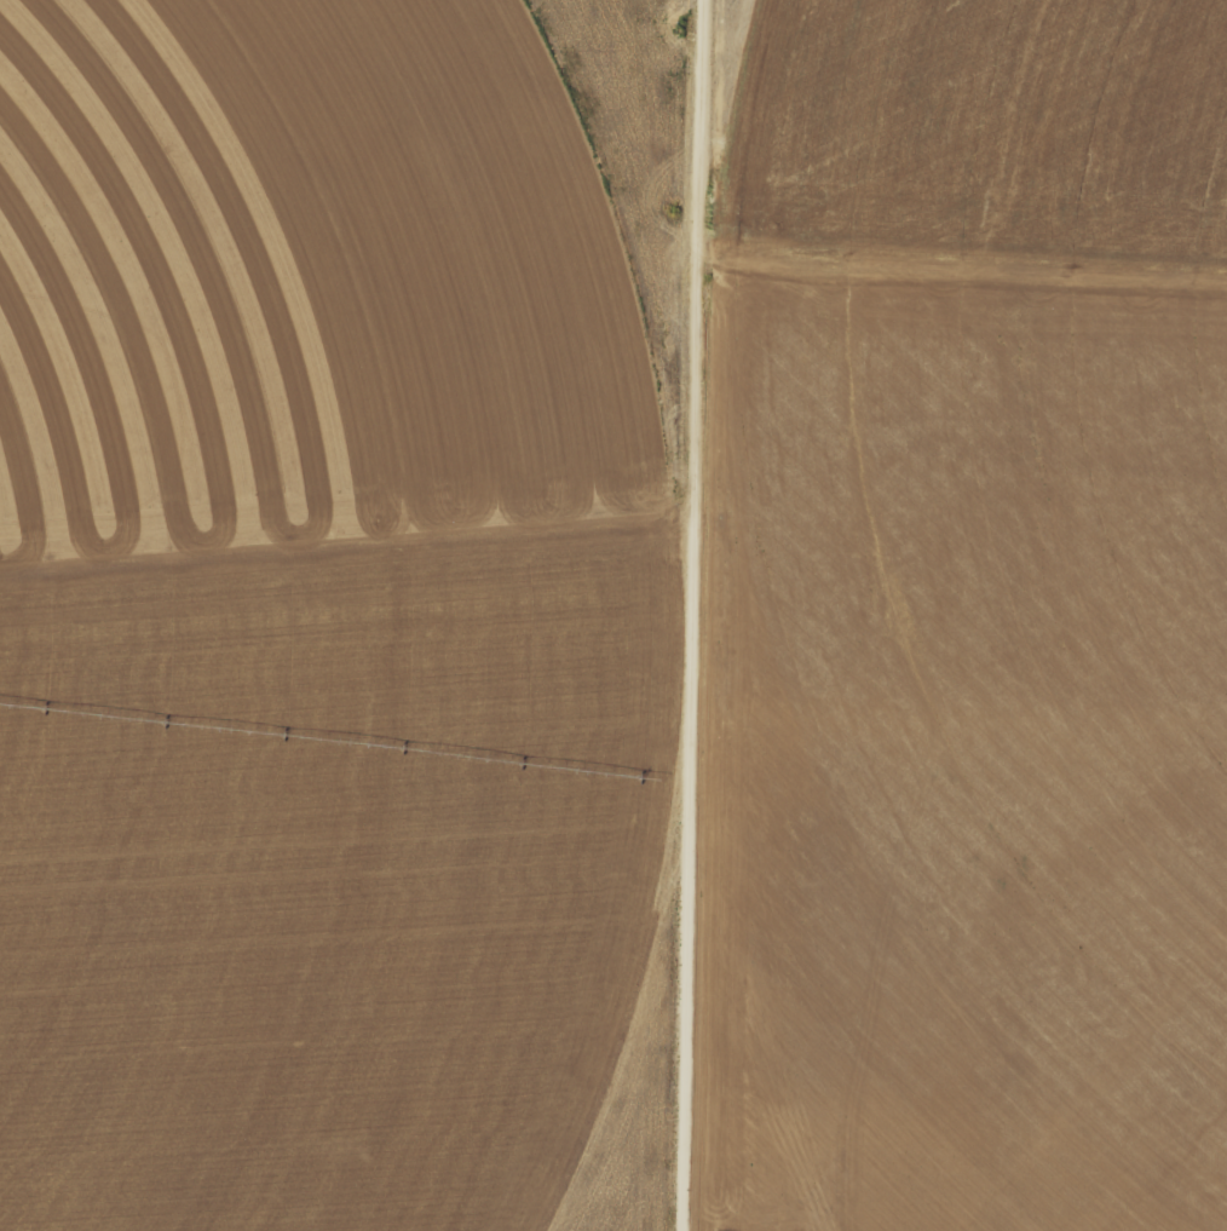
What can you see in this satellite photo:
road: (698, 615)

